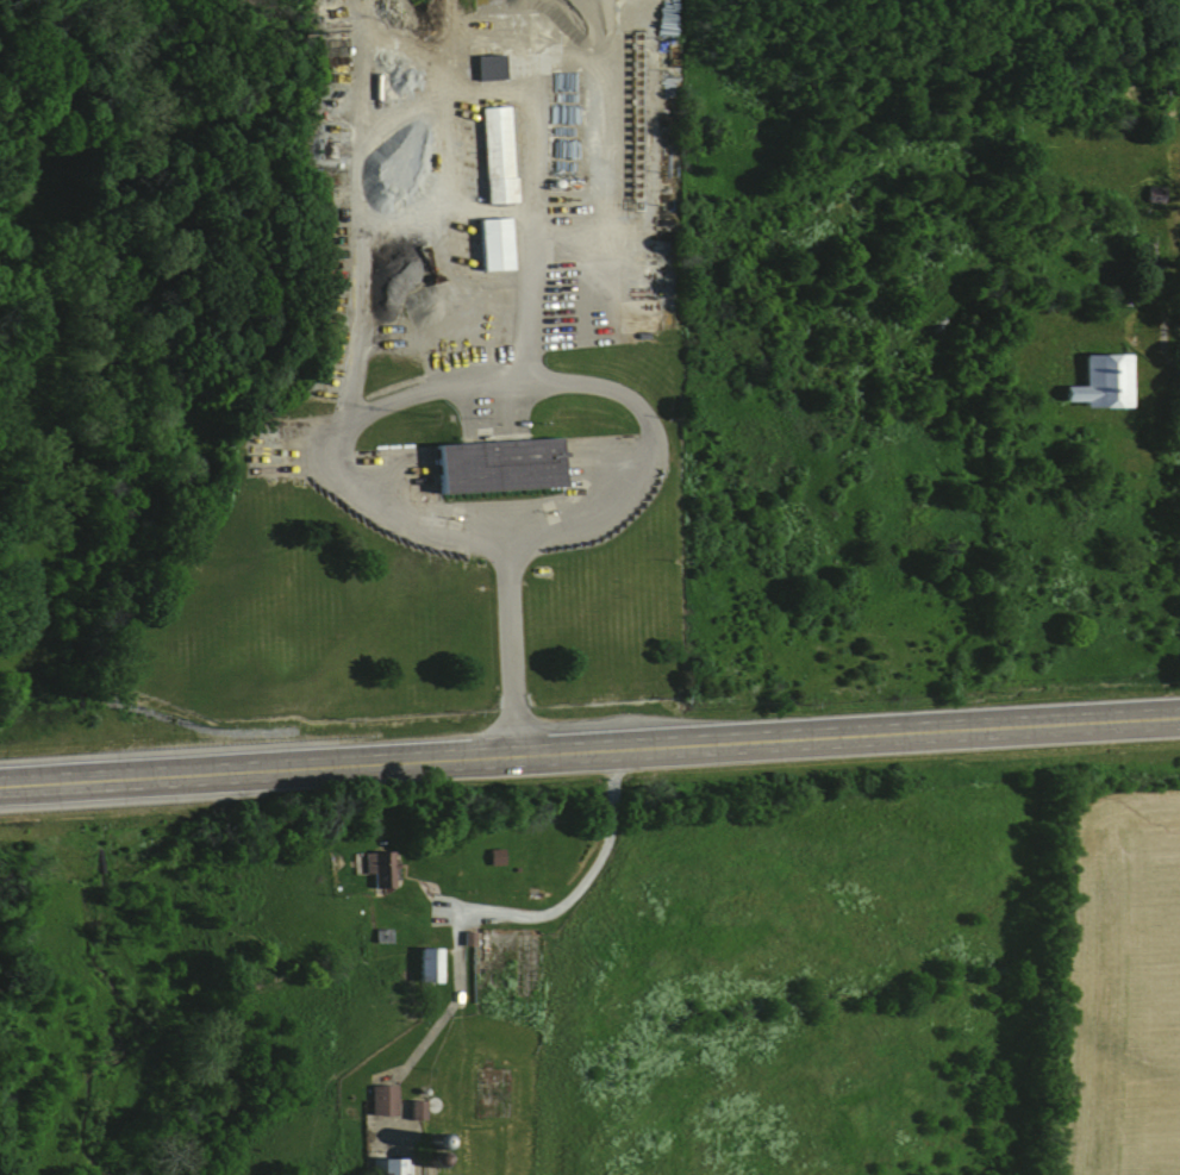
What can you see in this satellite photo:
building: (486, 67)
road: (444, 98)
building: (494, 155)
building: (489, 244)
road: (591, 380)
building: (1099, 383)
building: (493, 465)
road: (589, 751)
building: (376, 867)
road: (575, 882)
building: (466, 938)
building: (426, 964)
building: (380, 1099)
building: (413, 1110)
building: (387, 1165)

